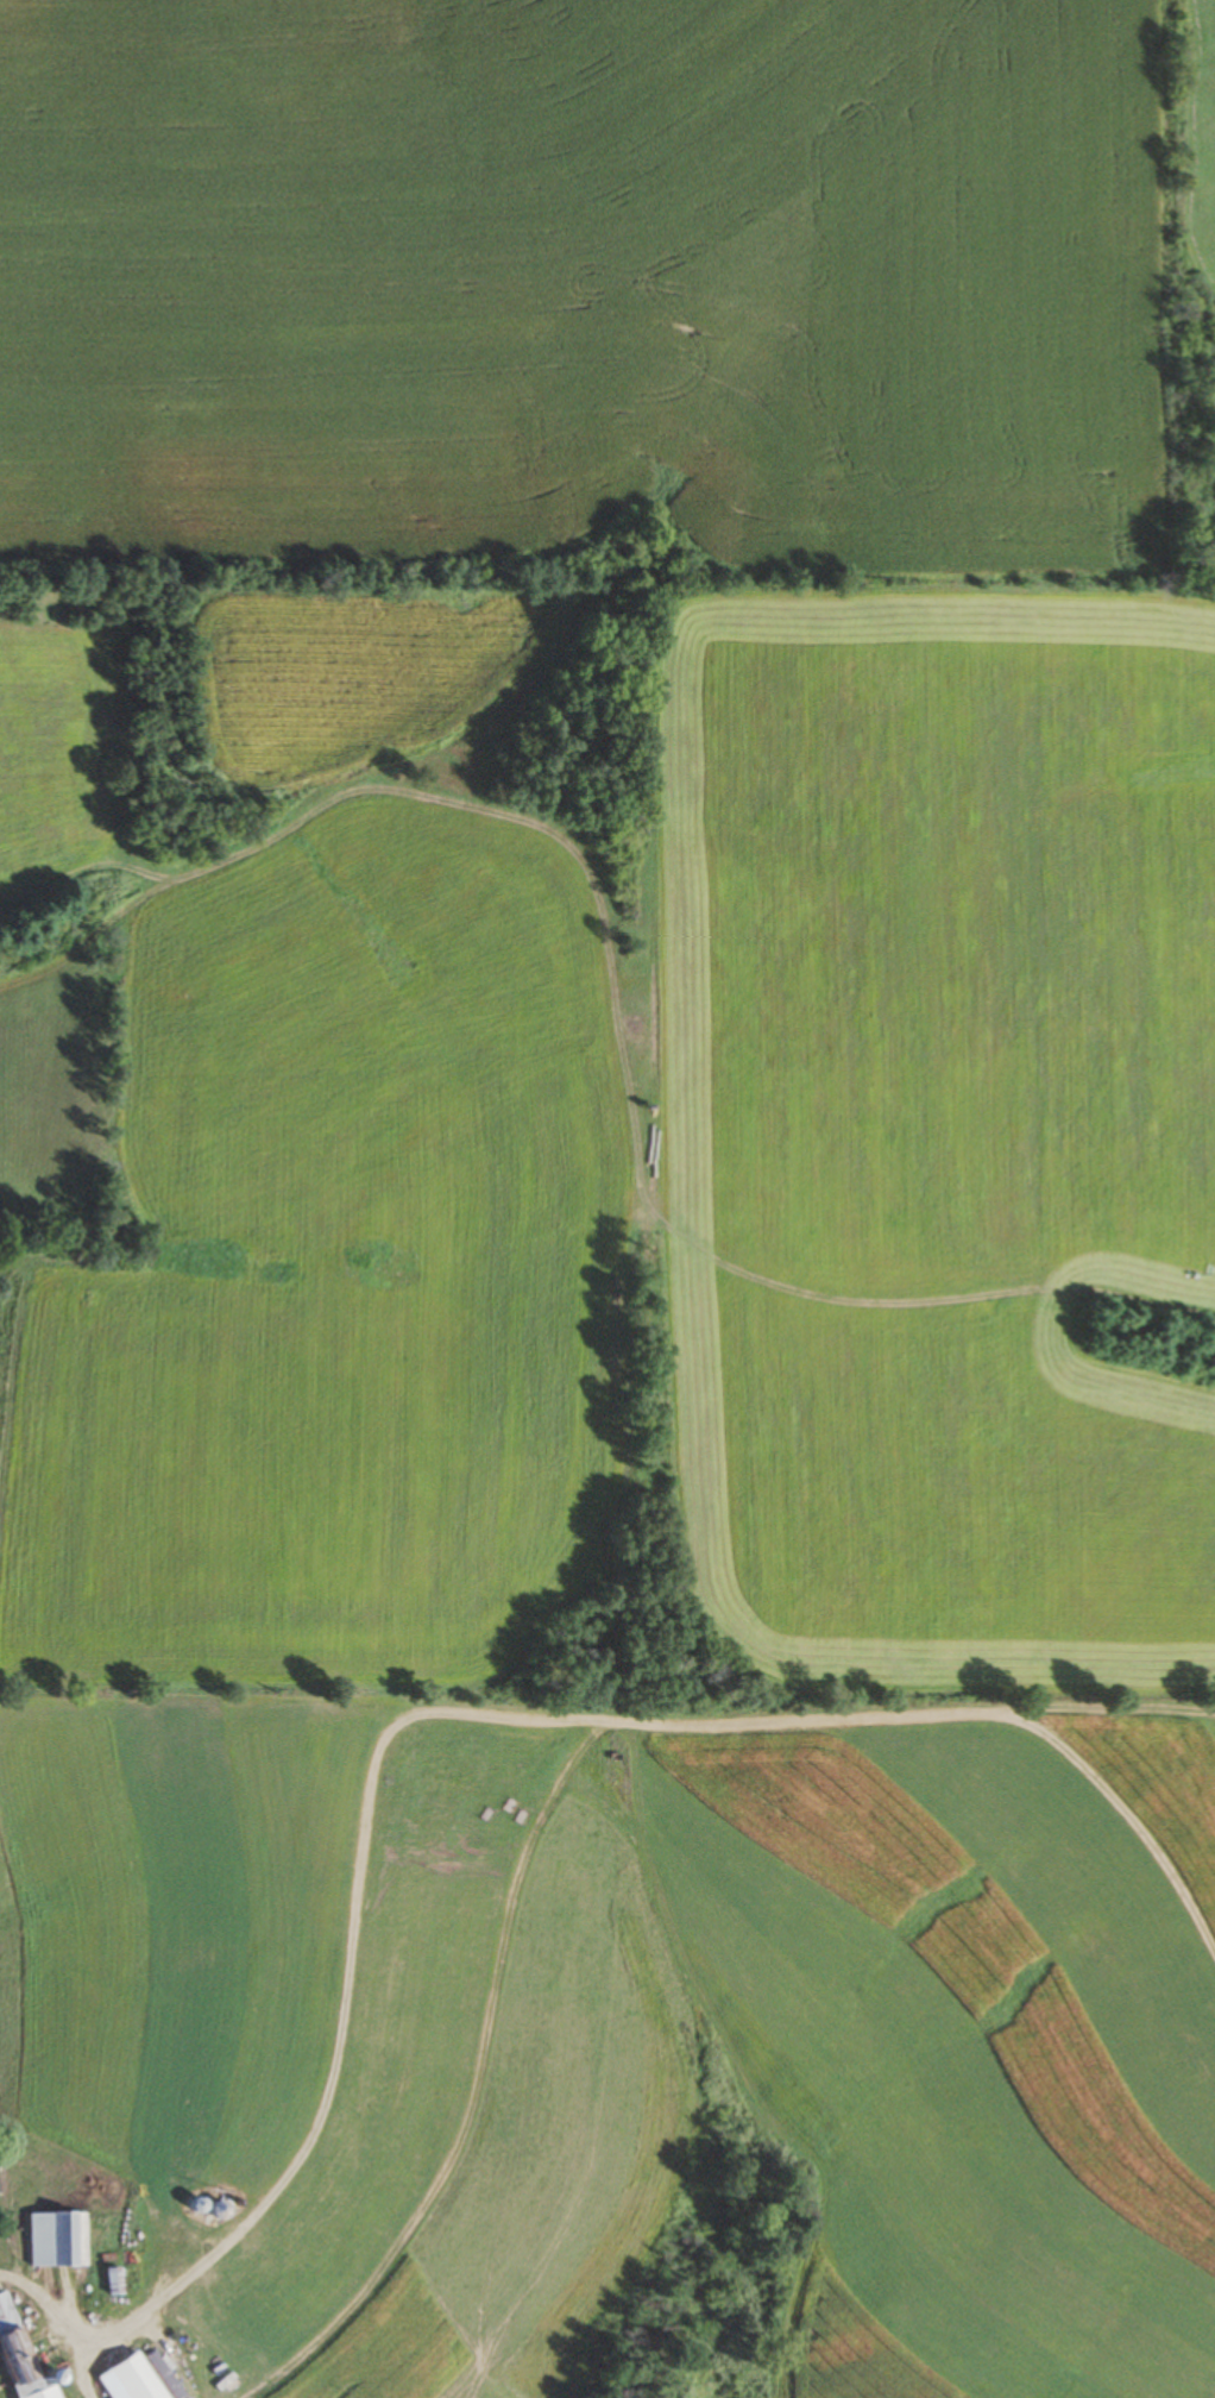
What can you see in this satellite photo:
building: (220, 2208)
building: (57, 2237)
building: (20, 2355)
building: (133, 2379)

